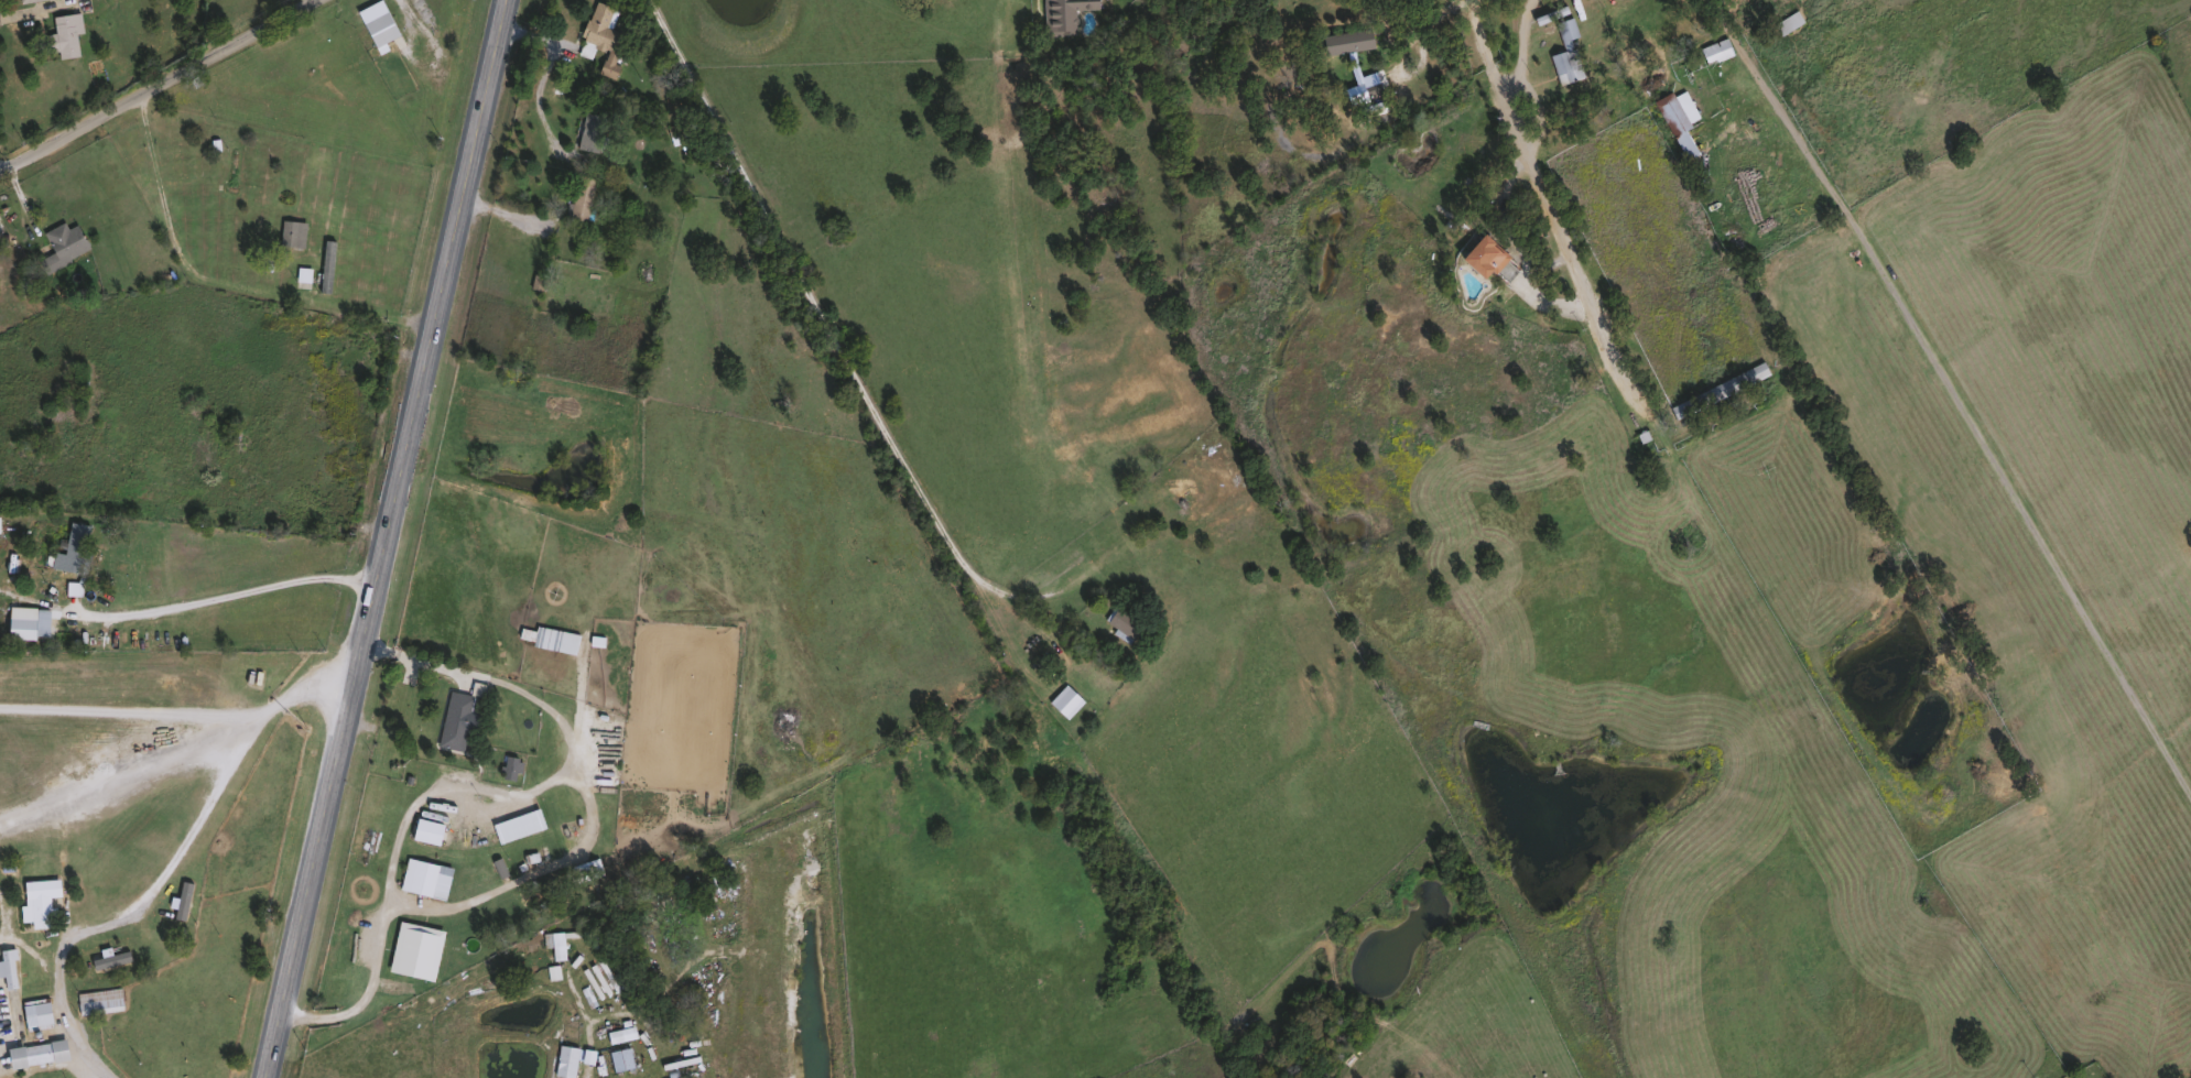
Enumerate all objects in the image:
building: (23, 0)
road: (316, 0)
building: (1062, 14)
building: (1787, 21)
building: (376, 23)
building: (64, 34)
building: (600, 36)
building: (1345, 41)
road: (1525, 50)
building: (1714, 51)
building: (1563, 52)
road: (545, 72)
road: (160, 87)
building: (1681, 123)
building: (588, 131)
building: (231, 170)
building: (578, 198)
road: (1550, 211)
road: (172, 229)
building: (292, 233)
building: (62, 246)
building: (1482, 258)
building: (327, 265)
road: (835, 345)
building: (1718, 389)
building: (1156, 498)
road: (2020, 507)
road: (389, 538)
building: (73, 546)
road: (193, 601)
building: (18, 622)
building: (1121, 622)
road: (135, 709)
building: (455, 719)
building: (509, 766)
road: (121, 785)
road: (486, 785)
road: (536, 868)
building: (585, 868)
road: (169, 870)
building: (417, 875)
building: (36, 901)
building: (553, 943)
building: (403, 945)
building: (97, 951)
building: (7, 967)
building: (98, 1000)
building: (34, 1053)
building: (619, 1058)
building: (565, 1060)

